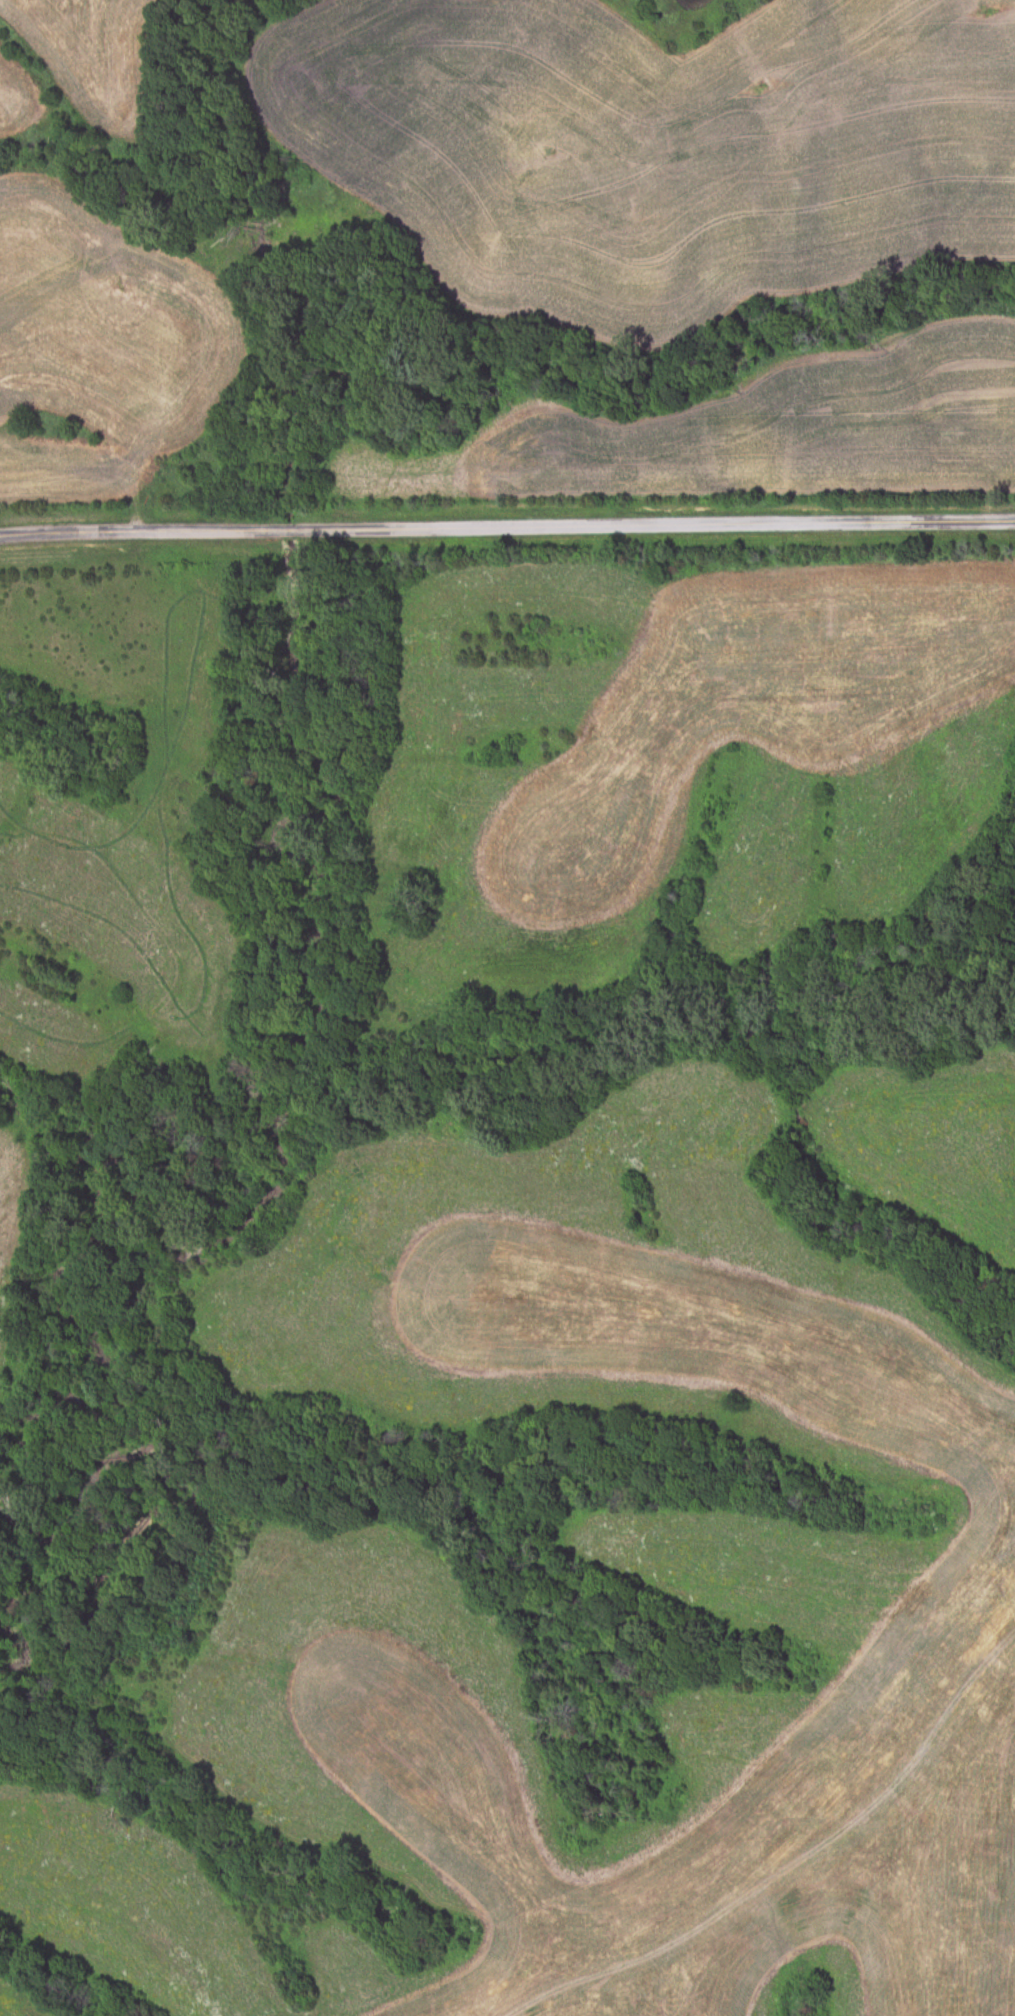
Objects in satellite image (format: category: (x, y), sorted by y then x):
road: (507, 527)

